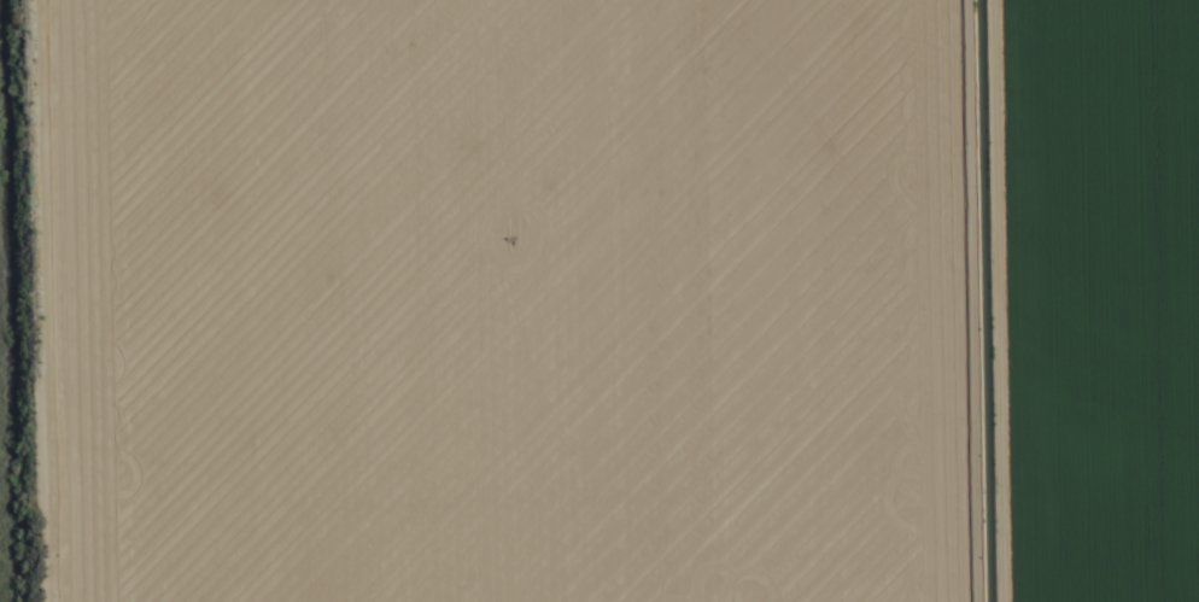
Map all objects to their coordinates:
crop: (599, 300)
road: (1042, 300)

